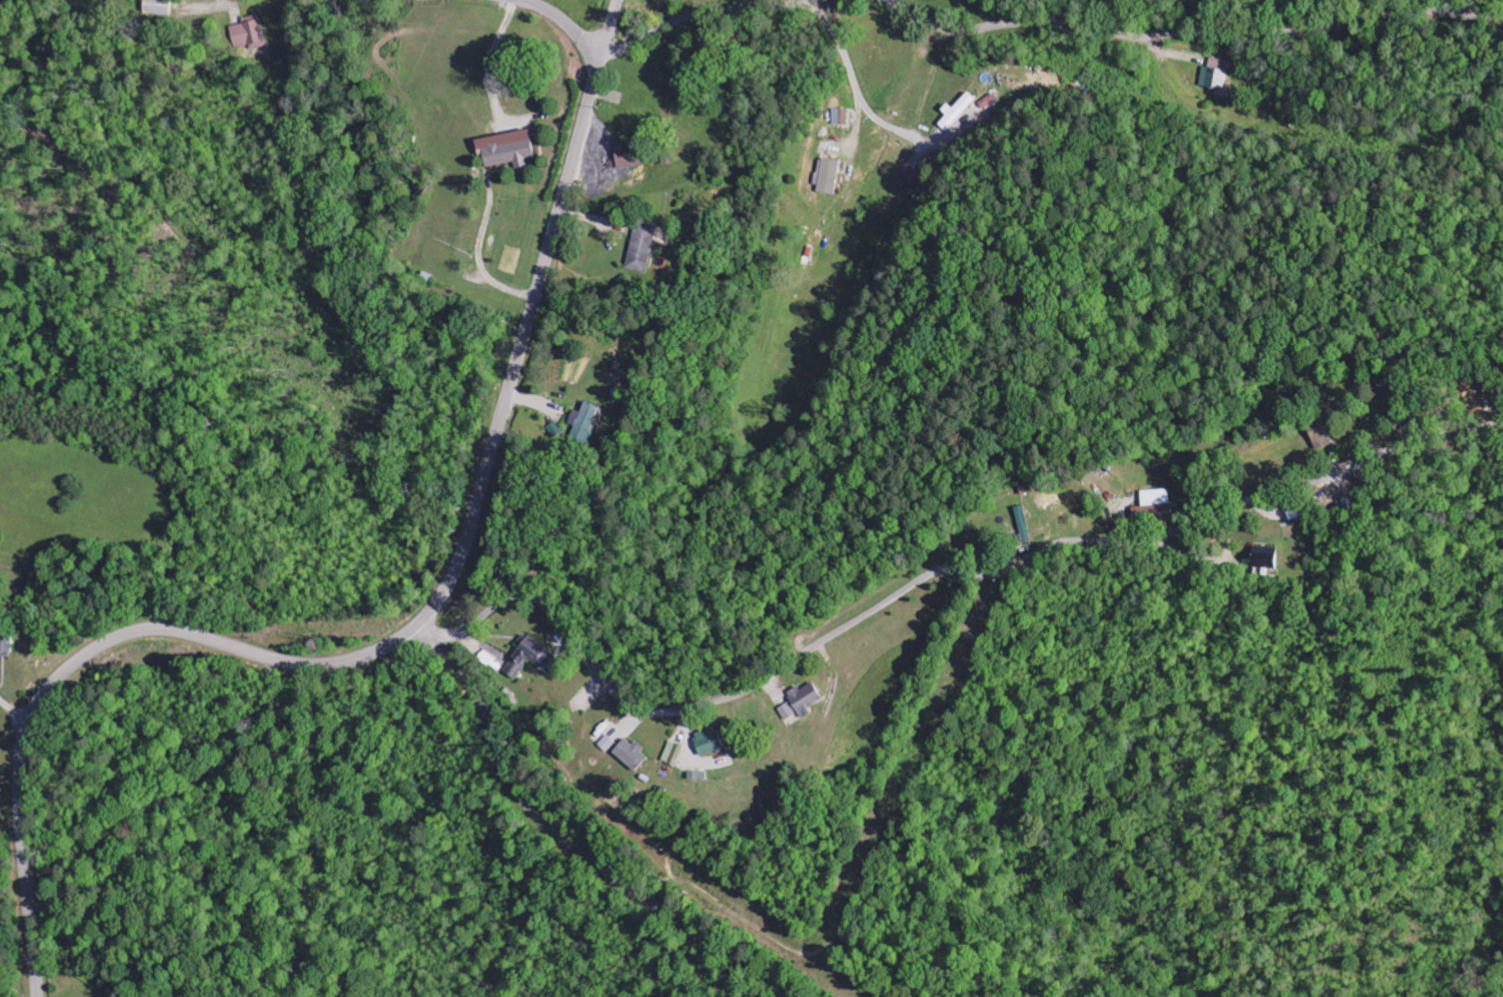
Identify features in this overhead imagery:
building: (158, 7)
road: (696, 15)
road: (560, 22)
building: (248, 34)
road: (1191, 34)
building: (1216, 75)
building: (957, 112)
building: (511, 151)
building: (628, 155)
building: (827, 177)
building: (642, 248)
road: (530, 311)
building: (585, 424)
building: (1323, 435)
building: (1155, 507)
building: (1025, 525)
building: (1265, 558)
road: (875, 608)
road: (463, 630)
building: (5, 646)
road: (83, 655)
building: (545, 658)
building: (805, 700)
building: (788, 712)
building: (708, 742)
building: (606, 744)
building: (672, 755)
building: (630, 756)
road: (566, 841)

